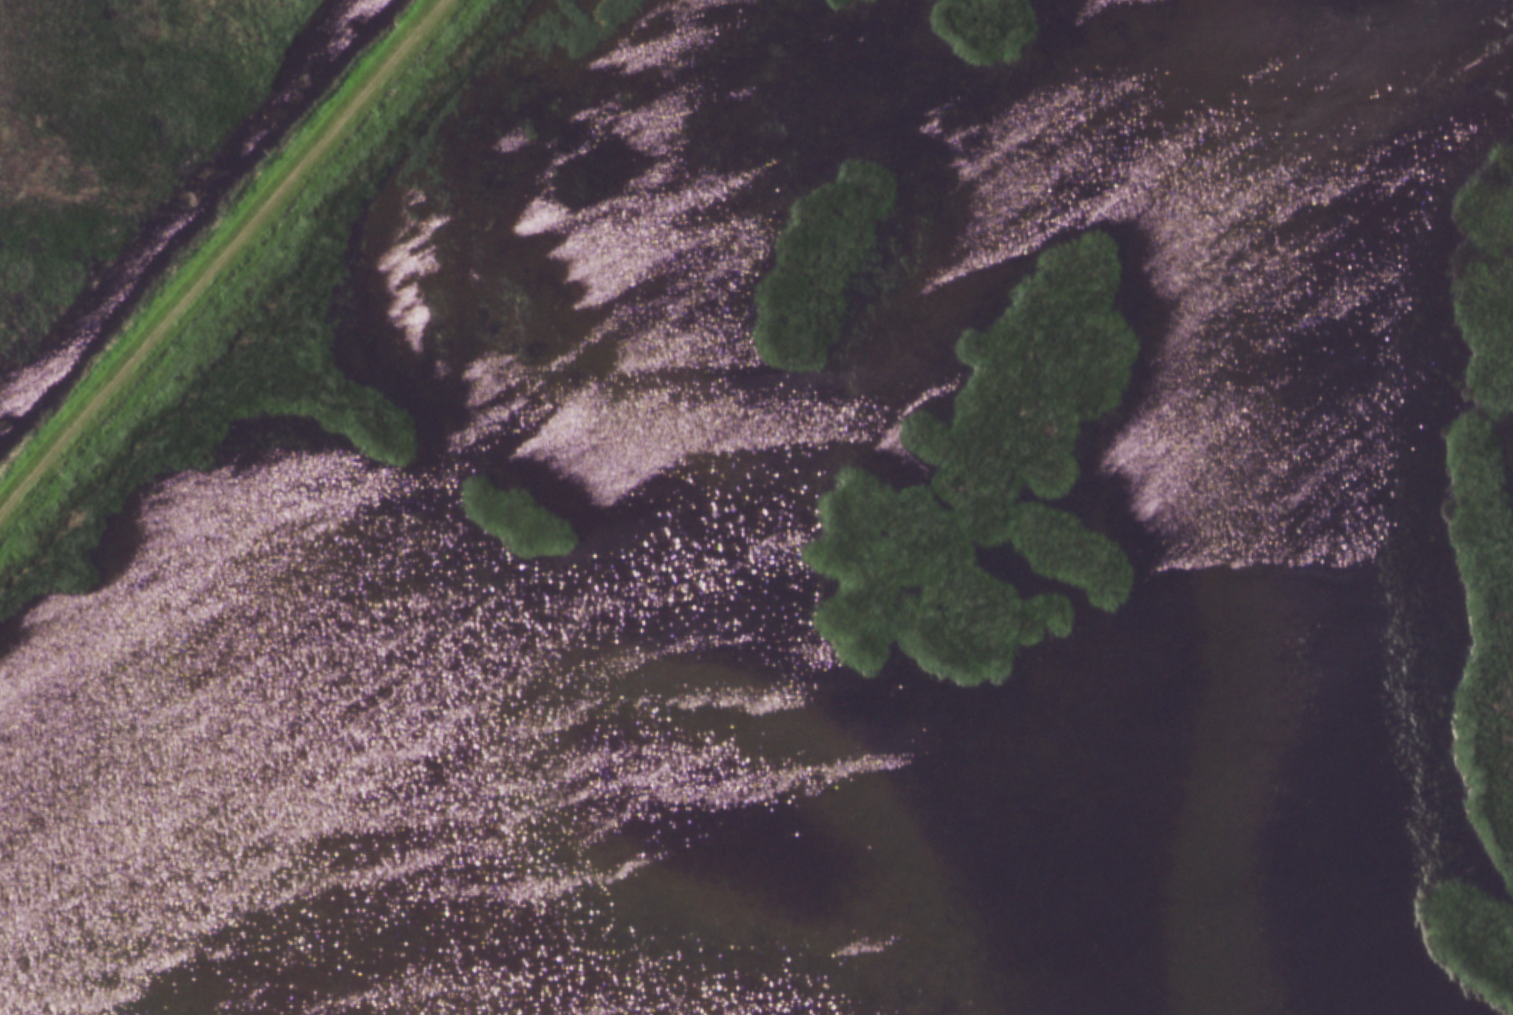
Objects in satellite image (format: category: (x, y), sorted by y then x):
road: (219, 252)
dam: (238, 272)

